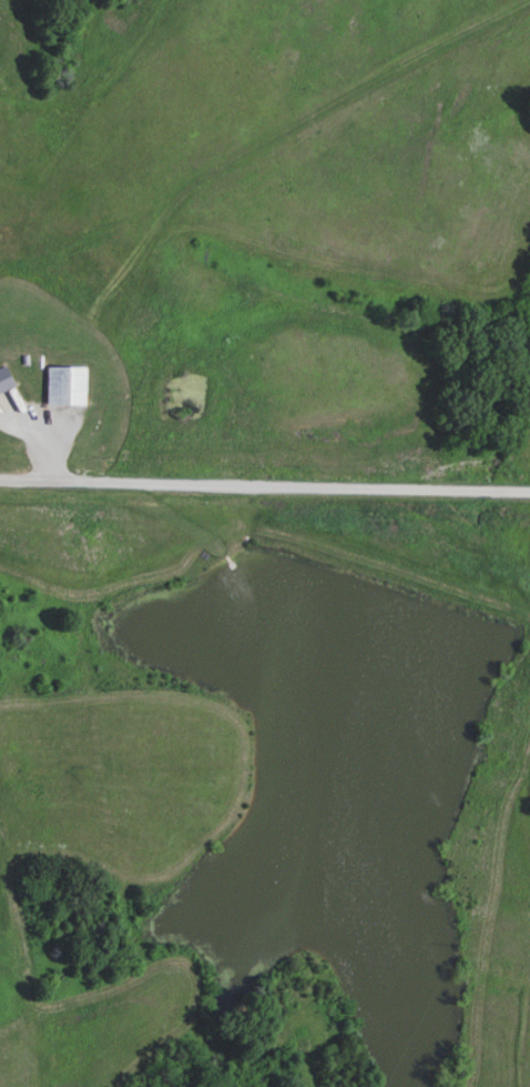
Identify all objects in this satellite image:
building: (7, 380)
building: (70, 384)
road: (41, 429)
road: (264, 486)

